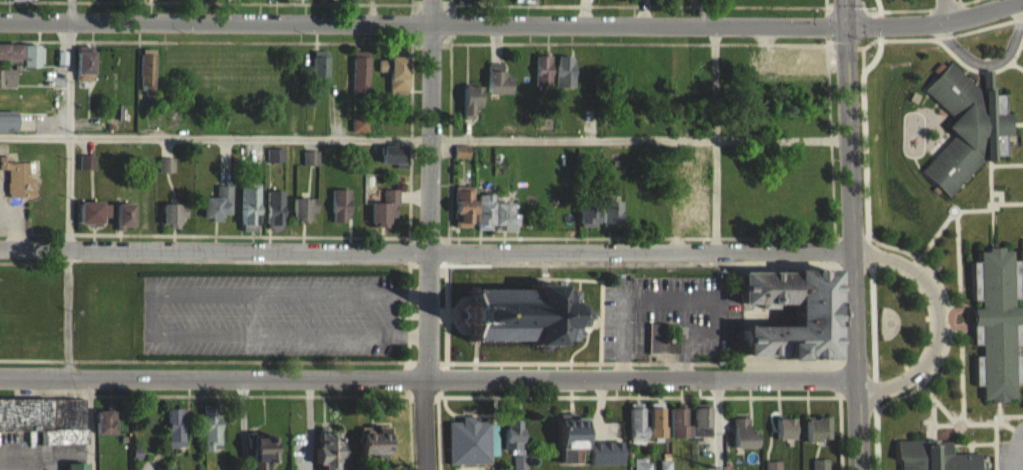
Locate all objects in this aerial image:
building: (19, 1)
building: (483, 1)
building: (667, 1)
building: (152, 2)
building: (254, 2)
building: (287, 2)
building: (331, 2)
building: (463, 2)
building: (520, 2)
road: (72, 12)
road: (951, 12)
road: (701, 13)
road: (513, 25)
traffic signals: (851, 27)
road: (943, 37)
road: (845, 46)
road: (860, 47)
building: (21, 62)
road: (986, 64)
road: (1017, 66)
building: (803, 67)
road: (982, 71)
building: (83, 73)
building: (147, 77)
building: (542, 78)
building: (319, 79)
building: (563, 79)
building: (359, 80)
building: (394, 81)
building: (6, 86)
building: (496, 87)
building: (469, 108)
building: (7, 129)
road: (853, 130)
building: (358, 132)
road: (72, 135)
building: (965, 135)
road: (216, 137)
building: (460, 159)
building: (695, 159)
building: (275, 163)
building: (392, 163)
building: (309, 166)
building: (86, 170)
building: (165, 173)
building: (17, 186)
road: (992, 190)
road: (1008, 202)
building: (217, 211)
building: (339, 212)
building: (462, 214)
building: (248, 215)
building: (383, 216)
building: (696, 216)
building: (273, 217)
building: (303, 217)
building: (92, 220)
road: (947, 220)
building: (586, 221)
building: (123, 222)
building: (172, 222)
building: (492, 222)
building: (608, 222)
road: (428, 234)
road: (428, 251)
road: (871, 258)
road: (415, 263)
road: (430, 264)
road: (445, 264)
road: (960, 309)
road: (66, 311)
road: (410, 311)
road: (149, 312)
parking lot: (671, 313)
parking lot: (267, 314)
building: (526, 314)
building: (813, 314)
road: (949, 319)
road: (938, 323)
building: (996, 323)
road: (857, 326)
building: (659, 348)
road: (409, 361)
road: (429, 362)
road: (444, 362)
road: (838, 363)
road: (447, 365)
road: (406, 378)
road: (428, 378)
road: (444, 379)
road: (928, 390)
road: (409, 394)
road: (439, 395)
road: (424, 399)
road: (934, 410)
road: (946, 410)
road: (963, 416)
road: (89, 424)
road: (719, 424)
road: (957, 424)
flagpole: (960, 426)
building: (45, 427)
building: (656, 429)
building: (103, 430)
building: (636, 430)
building: (677, 430)
building: (700, 430)
road: (997, 430)
road: (859, 431)
road: (842, 433)
building: (174, 435)
building: (210, 435)
building: (783, 436)
building: (815, 437)
road: (1021, 438)
building: (742, 442)
building: (512, 443)
road: (974, 443)
building: (570, 445)
building: (372, 448)
building: (471, 448)
road: (972, 448)
building: (261, 454)
building: (328, 455)
building: (933, 455)
parking lot: (1011, 455)
road: (1021, 457)
building: (605, 460)
building: (519, 466)
building: (640, 468)
building: (819, 468)
building: (664, 469)
building: (772, 469)

